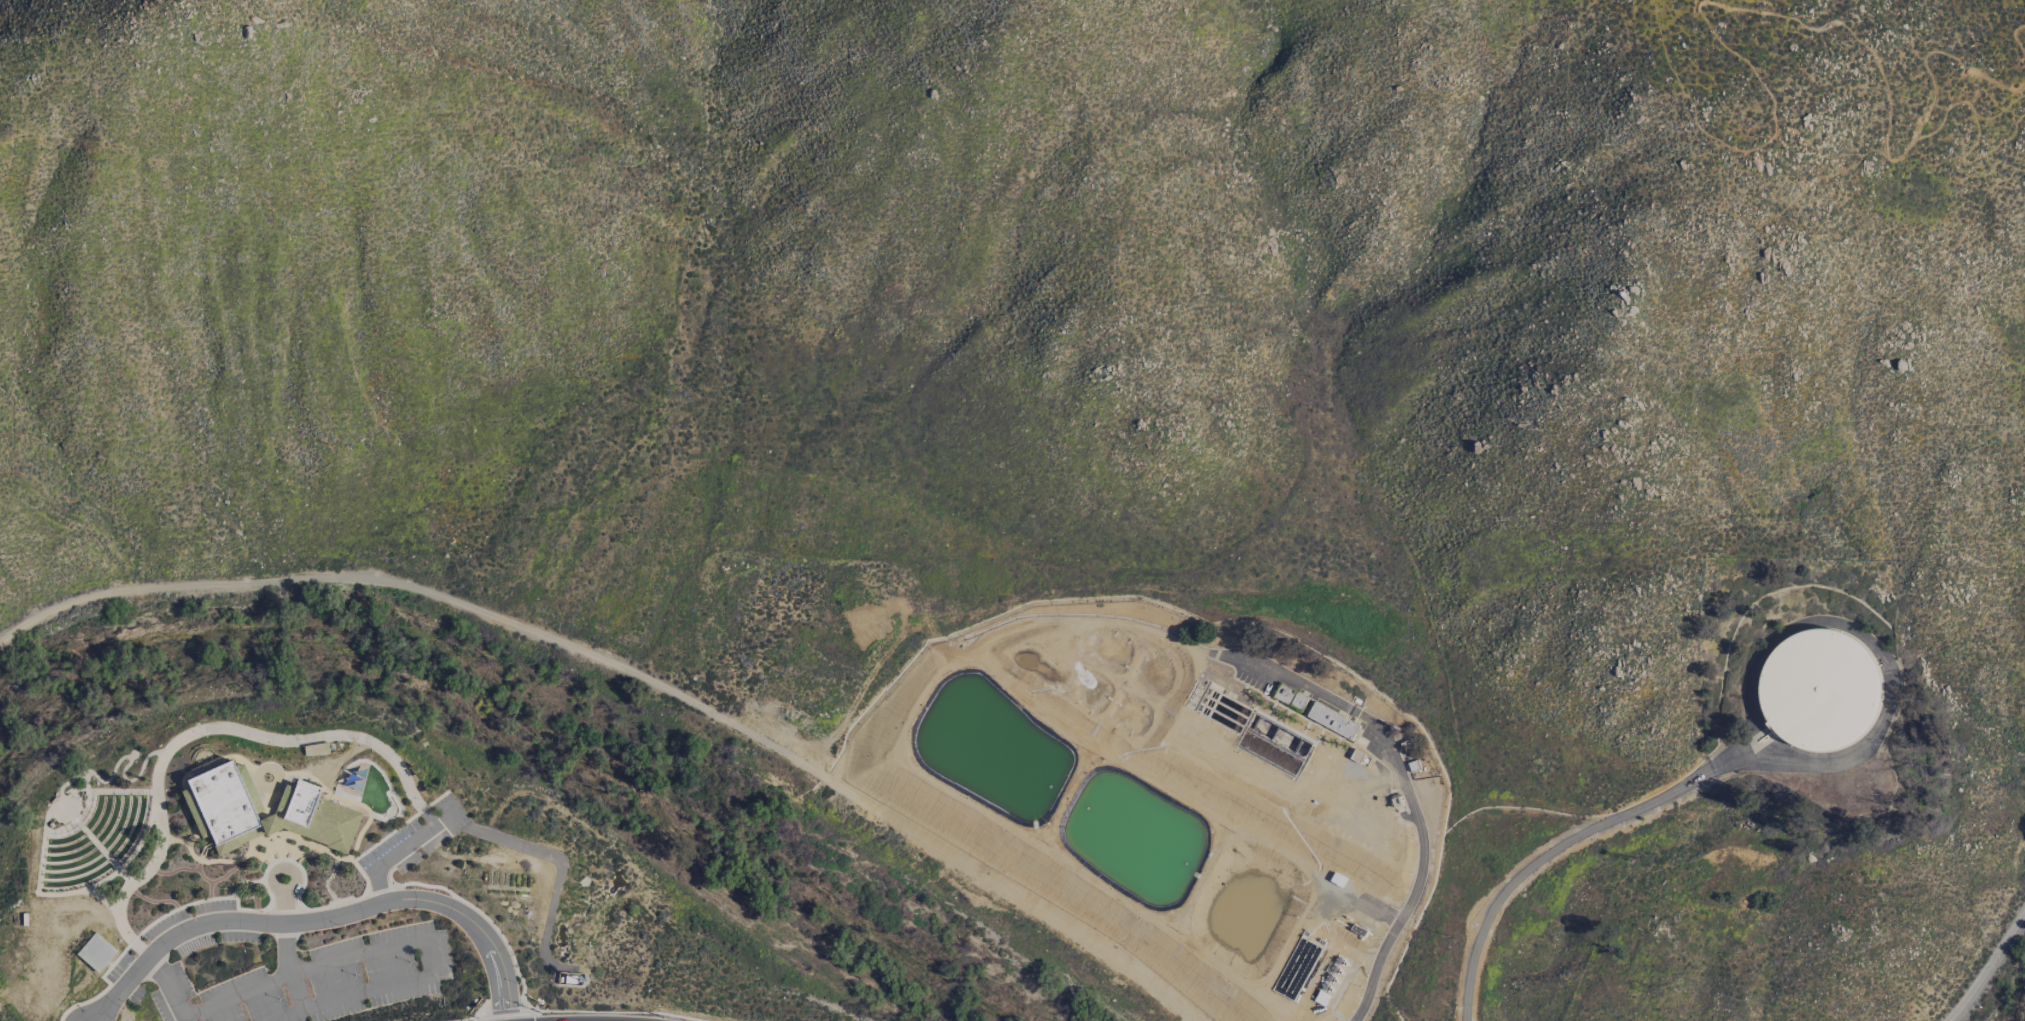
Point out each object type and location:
road: (1742, 11)
road: (423, 591)
building: (1818, 691)
storage tank: (1818, 691)
building: (1290, 697)
building: (1332, 721)
river: (527, 726)
building: (223, 803)
road: (1411, 804)
building: (315, 820)
building: (199, 824)
building: (267, 825)
road: (397, 852)
road: (1545, 857)
road: (1010, 896)
road: (323, 921)
road: (429, 942)
building: (96, 952)
road: (1989, 969)
road: (171, 986)
road: (236, 997)
road: (503, 1012)
road: (611, 1012)
road: (286, 1014)
road: (466, 1019)

